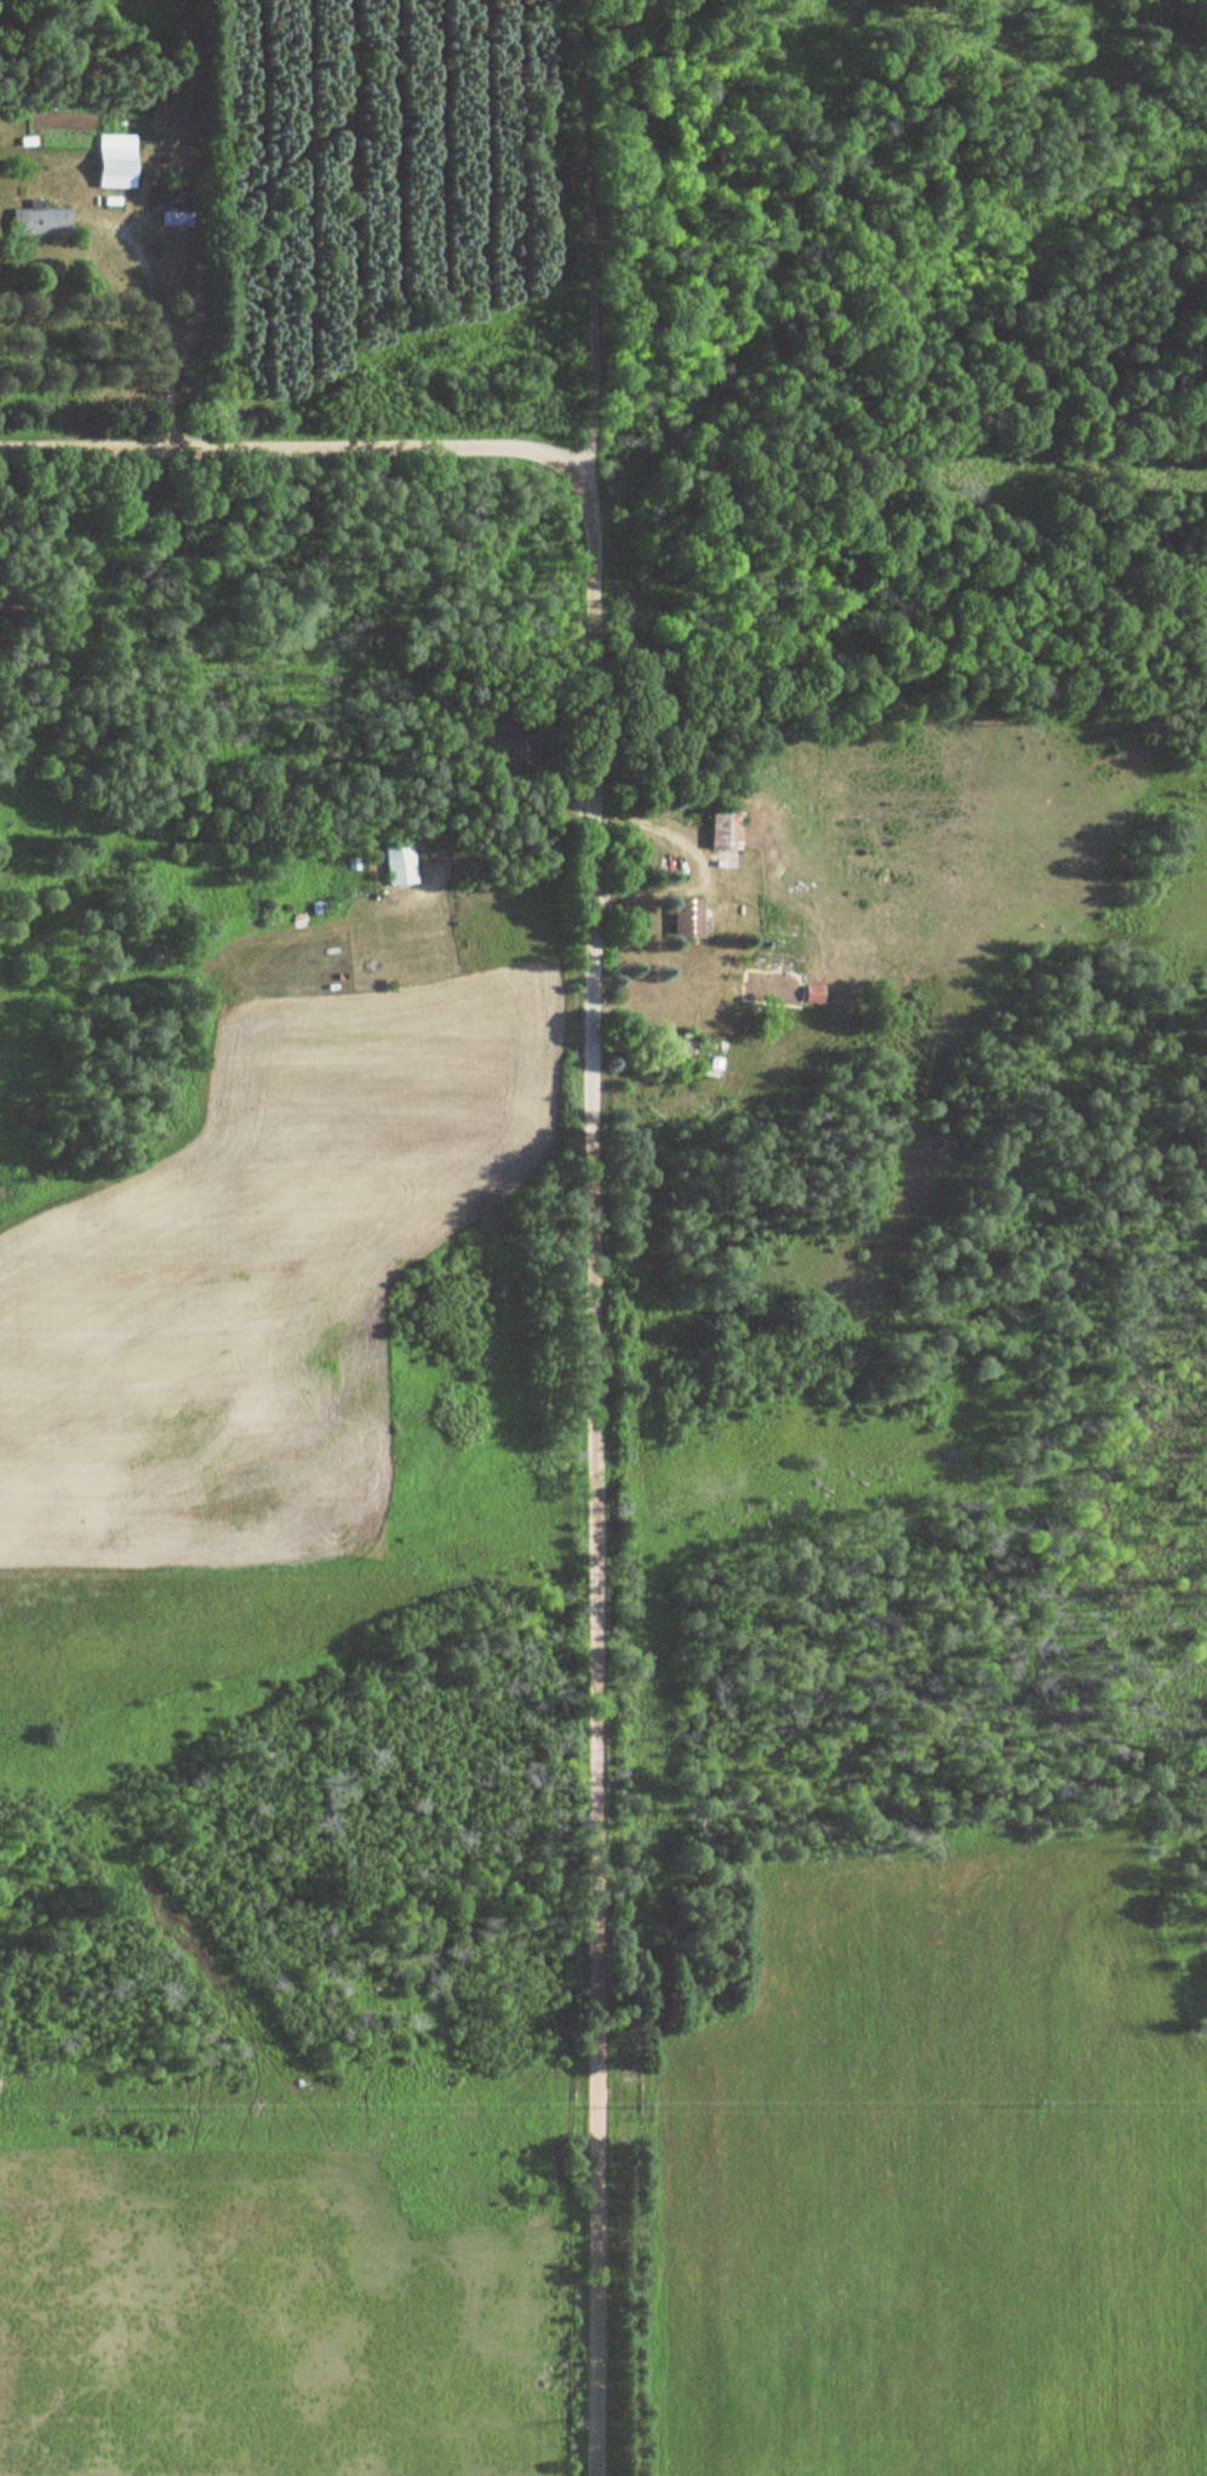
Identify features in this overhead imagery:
building: (110, 161)
building: (36, 222)
road: (585, 238)
road: (131, 250)
road: (297, 447)
building: (720, 829)
building: (395, 863)
building: (683, 913)
building: (811, 994)
road: (595, 1475)

